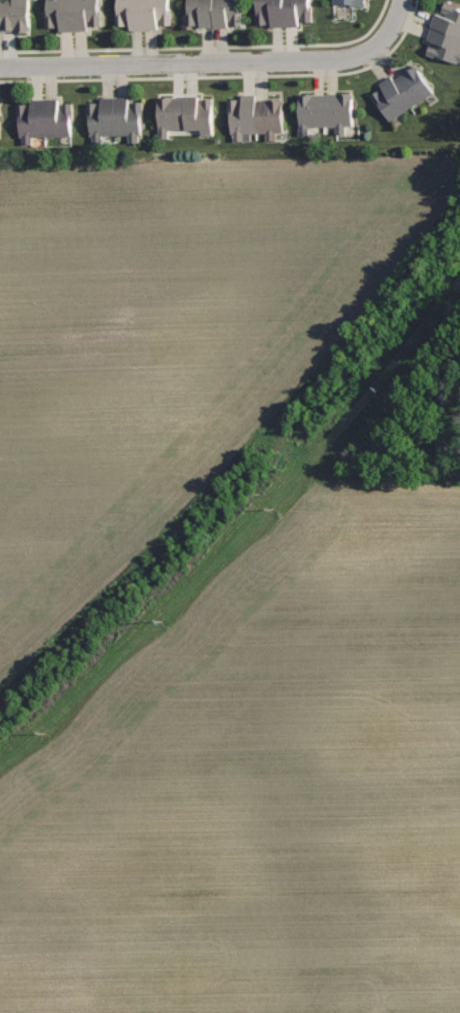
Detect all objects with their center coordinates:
building: (351, 2)
building: (213, 12)
building: (283, 12)
building: (74, 13)
building: (143, 13)
building: (14, 16)
building: (446, 33)
road: (215, 62)
building: (402, 92)
building: (325, 110)
building: (186, 113)
building: (255, 116)
building: (115, 117)
building: (45, 118)
building: (0, 124)
railway: (240, 486)

